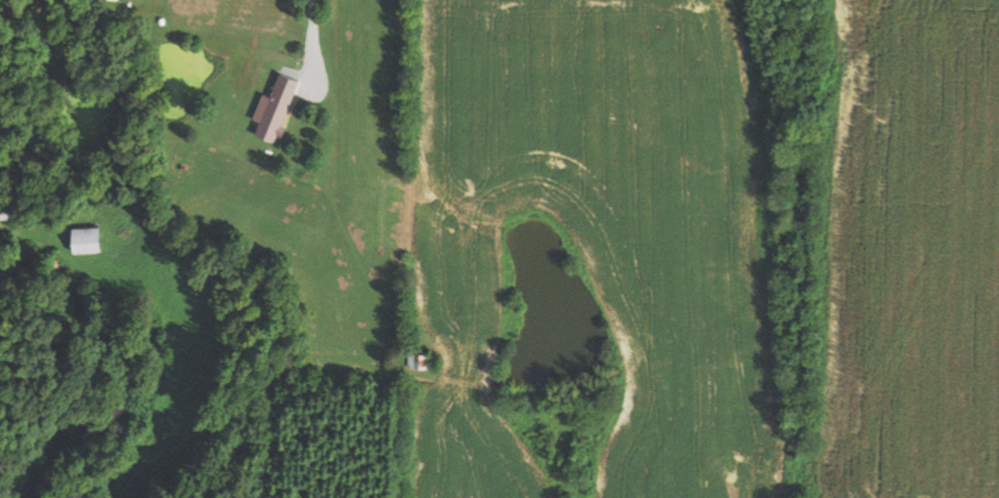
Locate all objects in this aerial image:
road: (308, 38)
building: (279, 107)
road: (401, 157)
building: (90, 238)
building: (420, 360)

